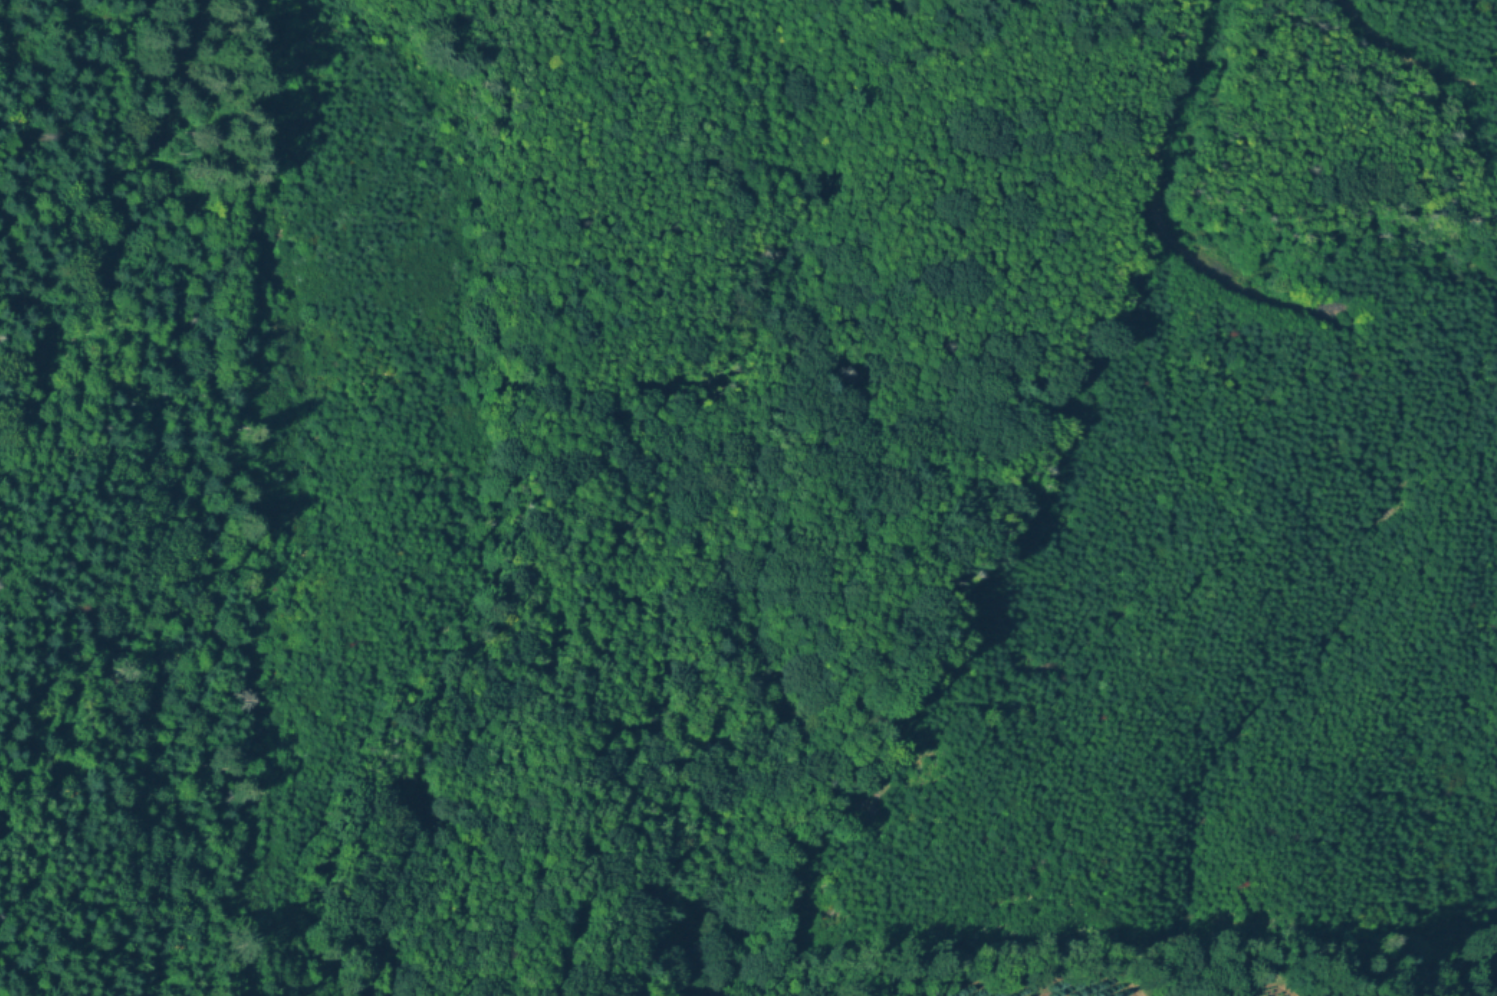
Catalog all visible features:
road: (1408, 60)
road: (1157, 203)

